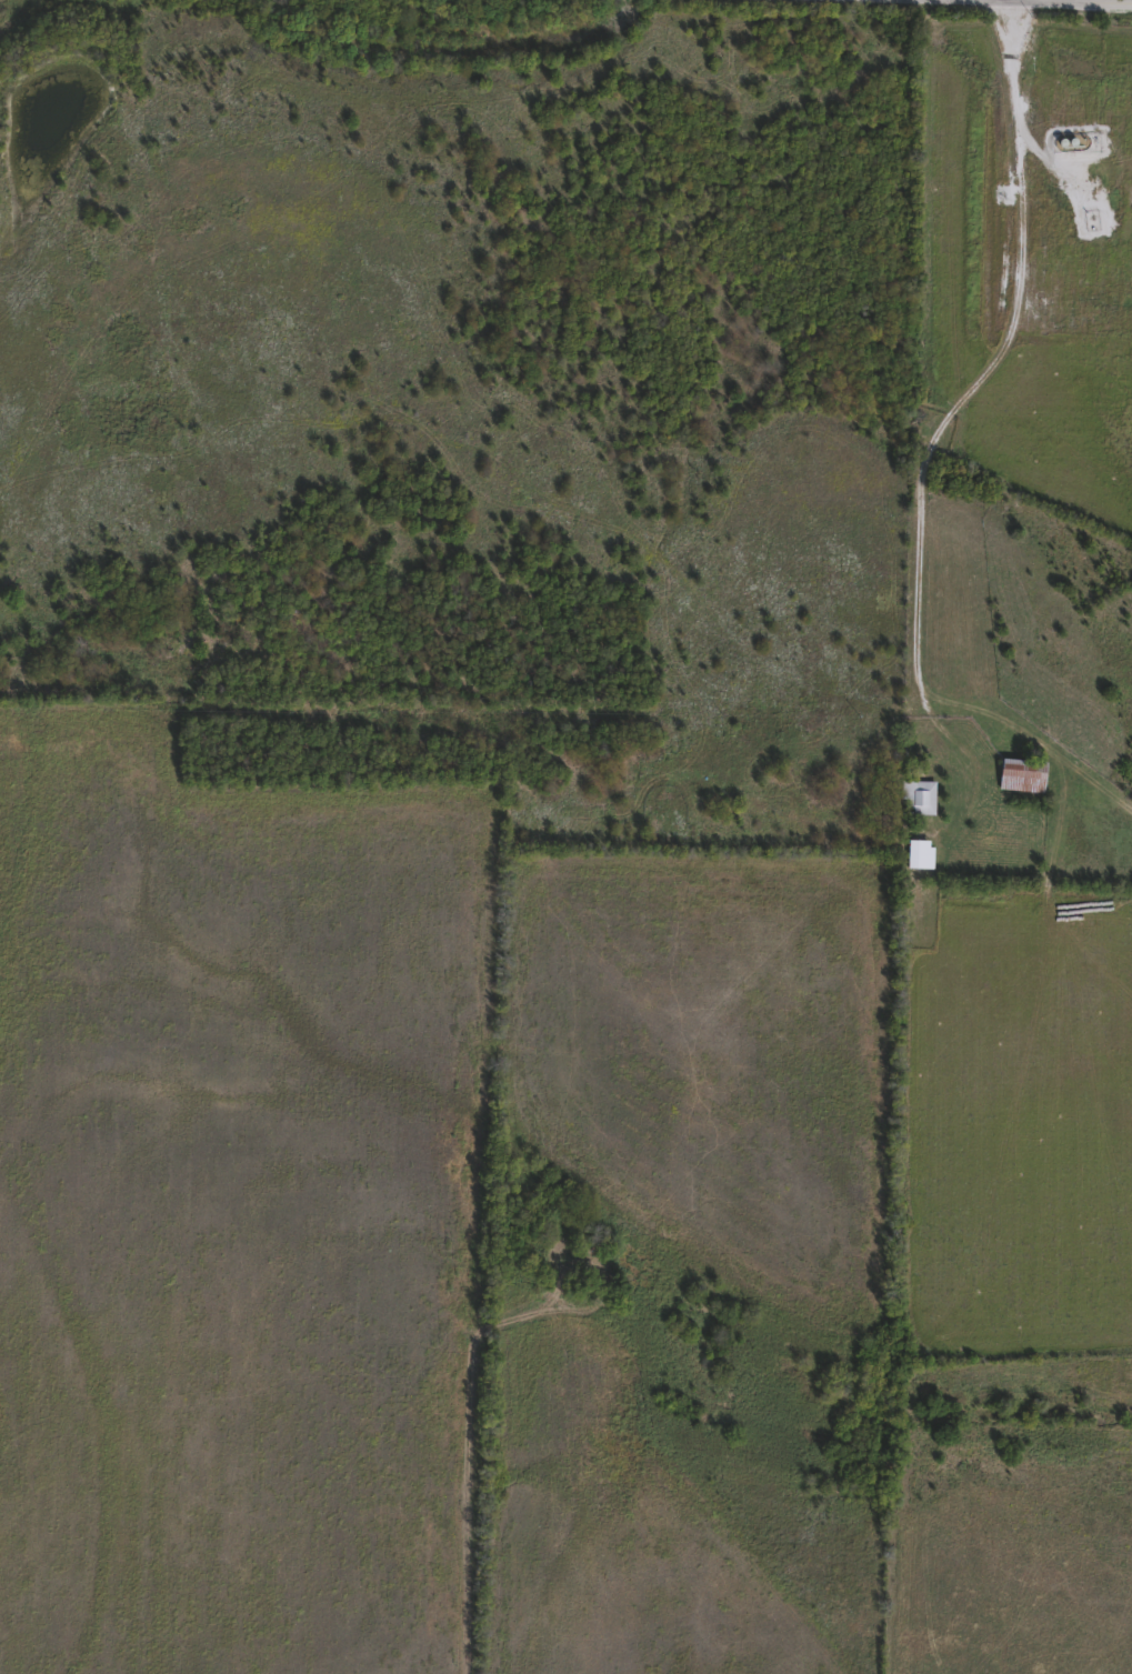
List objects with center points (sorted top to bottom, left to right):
road: (1120, 0)
road: (989, 368)
building: (1022, 779)
building: (919, 802)
building: (916, 856)

